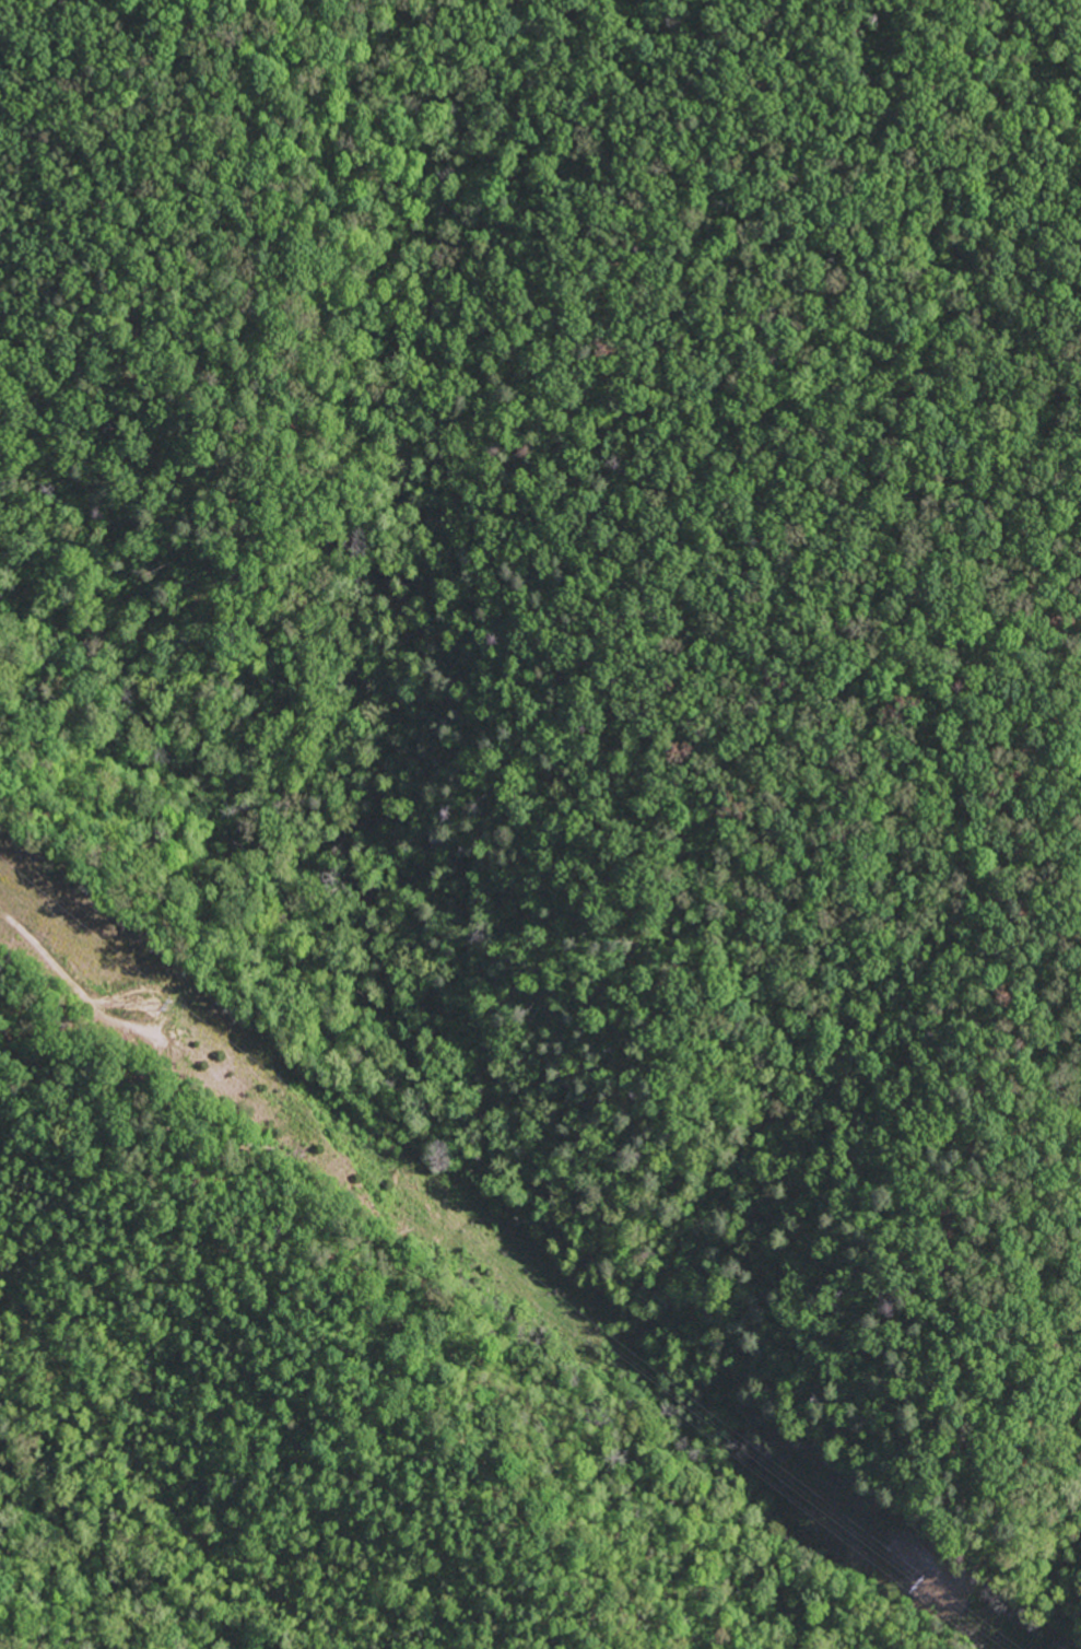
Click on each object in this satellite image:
power tower: (166, 1008)
power tower: (913, 1578)

